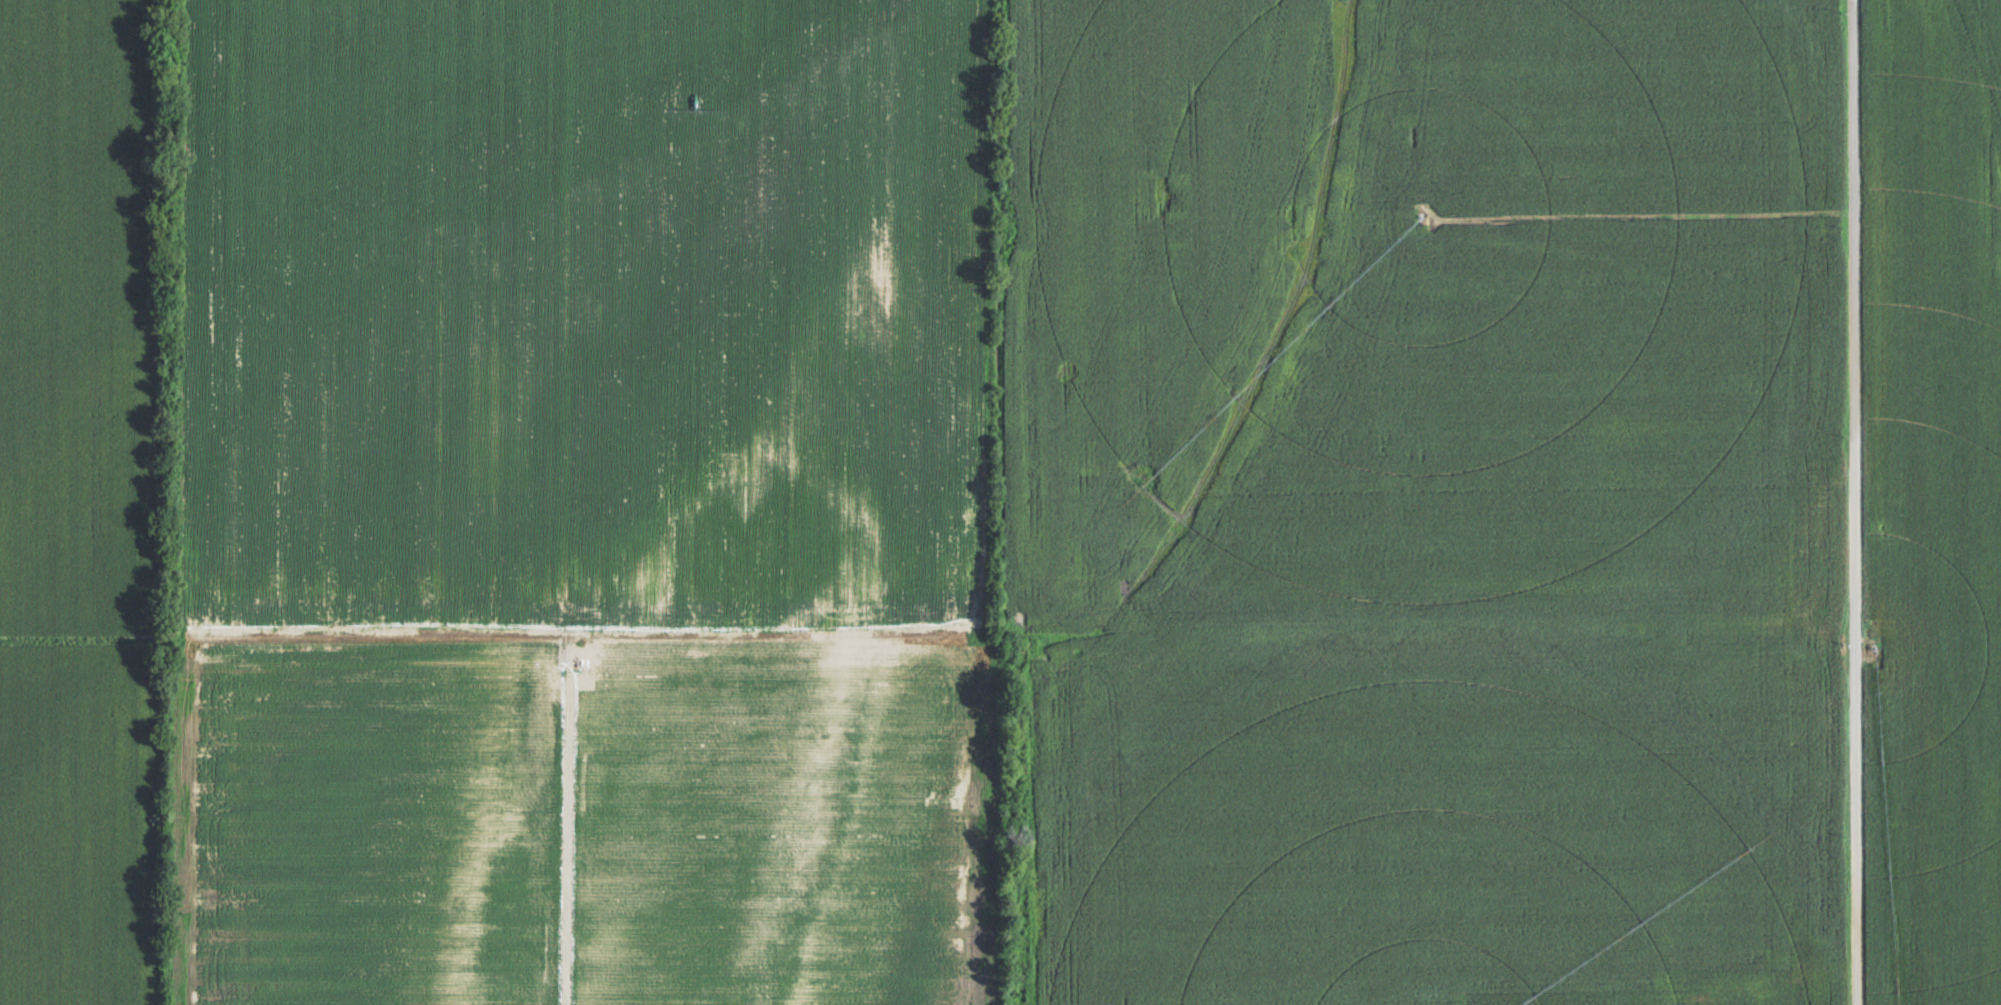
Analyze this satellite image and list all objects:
road: (1856, 502)

